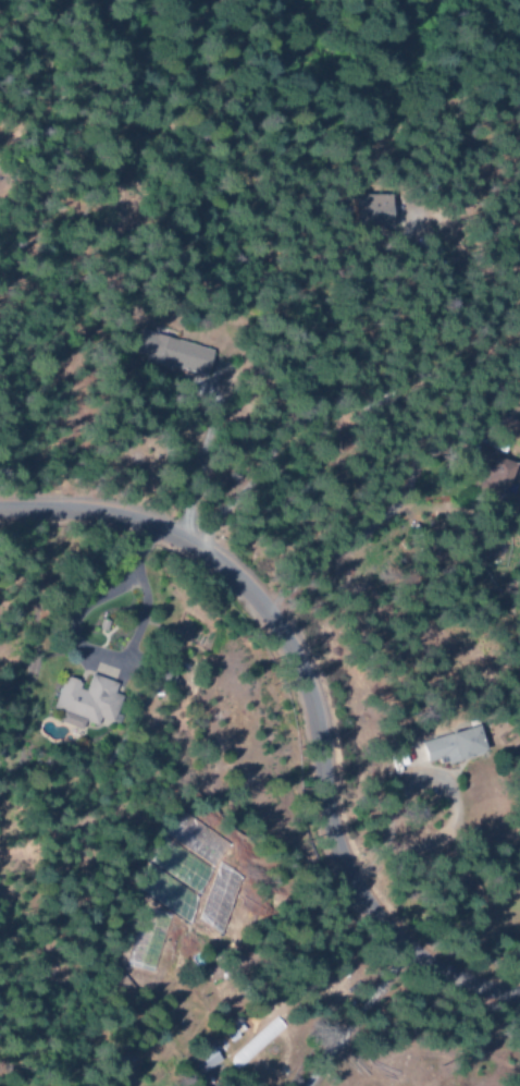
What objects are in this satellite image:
building: (370, 212)
building: (169, 353)
road: (307, 705)
building: (449, 746)
building: (199, 1061)

